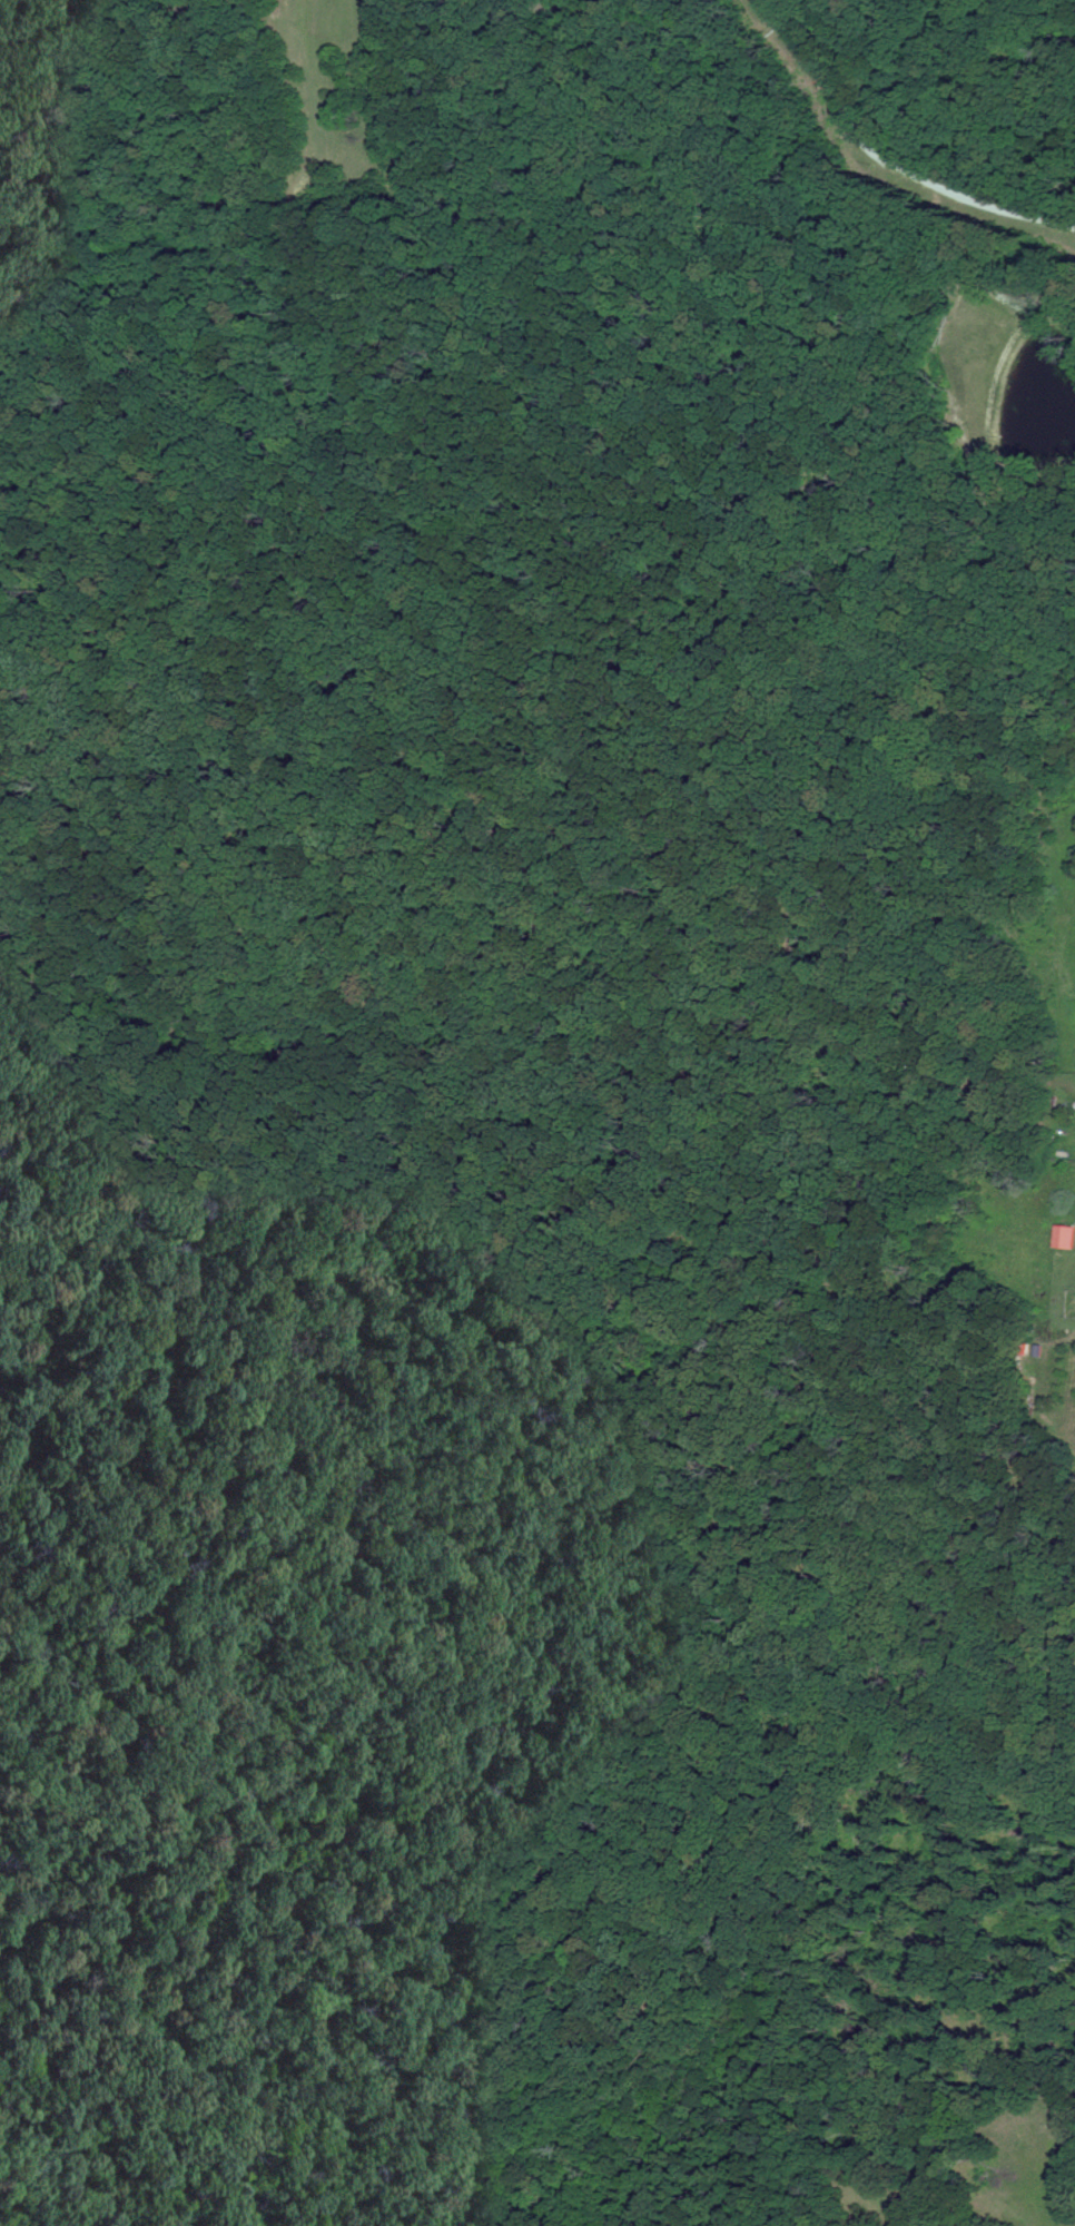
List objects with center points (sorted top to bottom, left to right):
road: (889, 164)
building: (1065, 1238)

